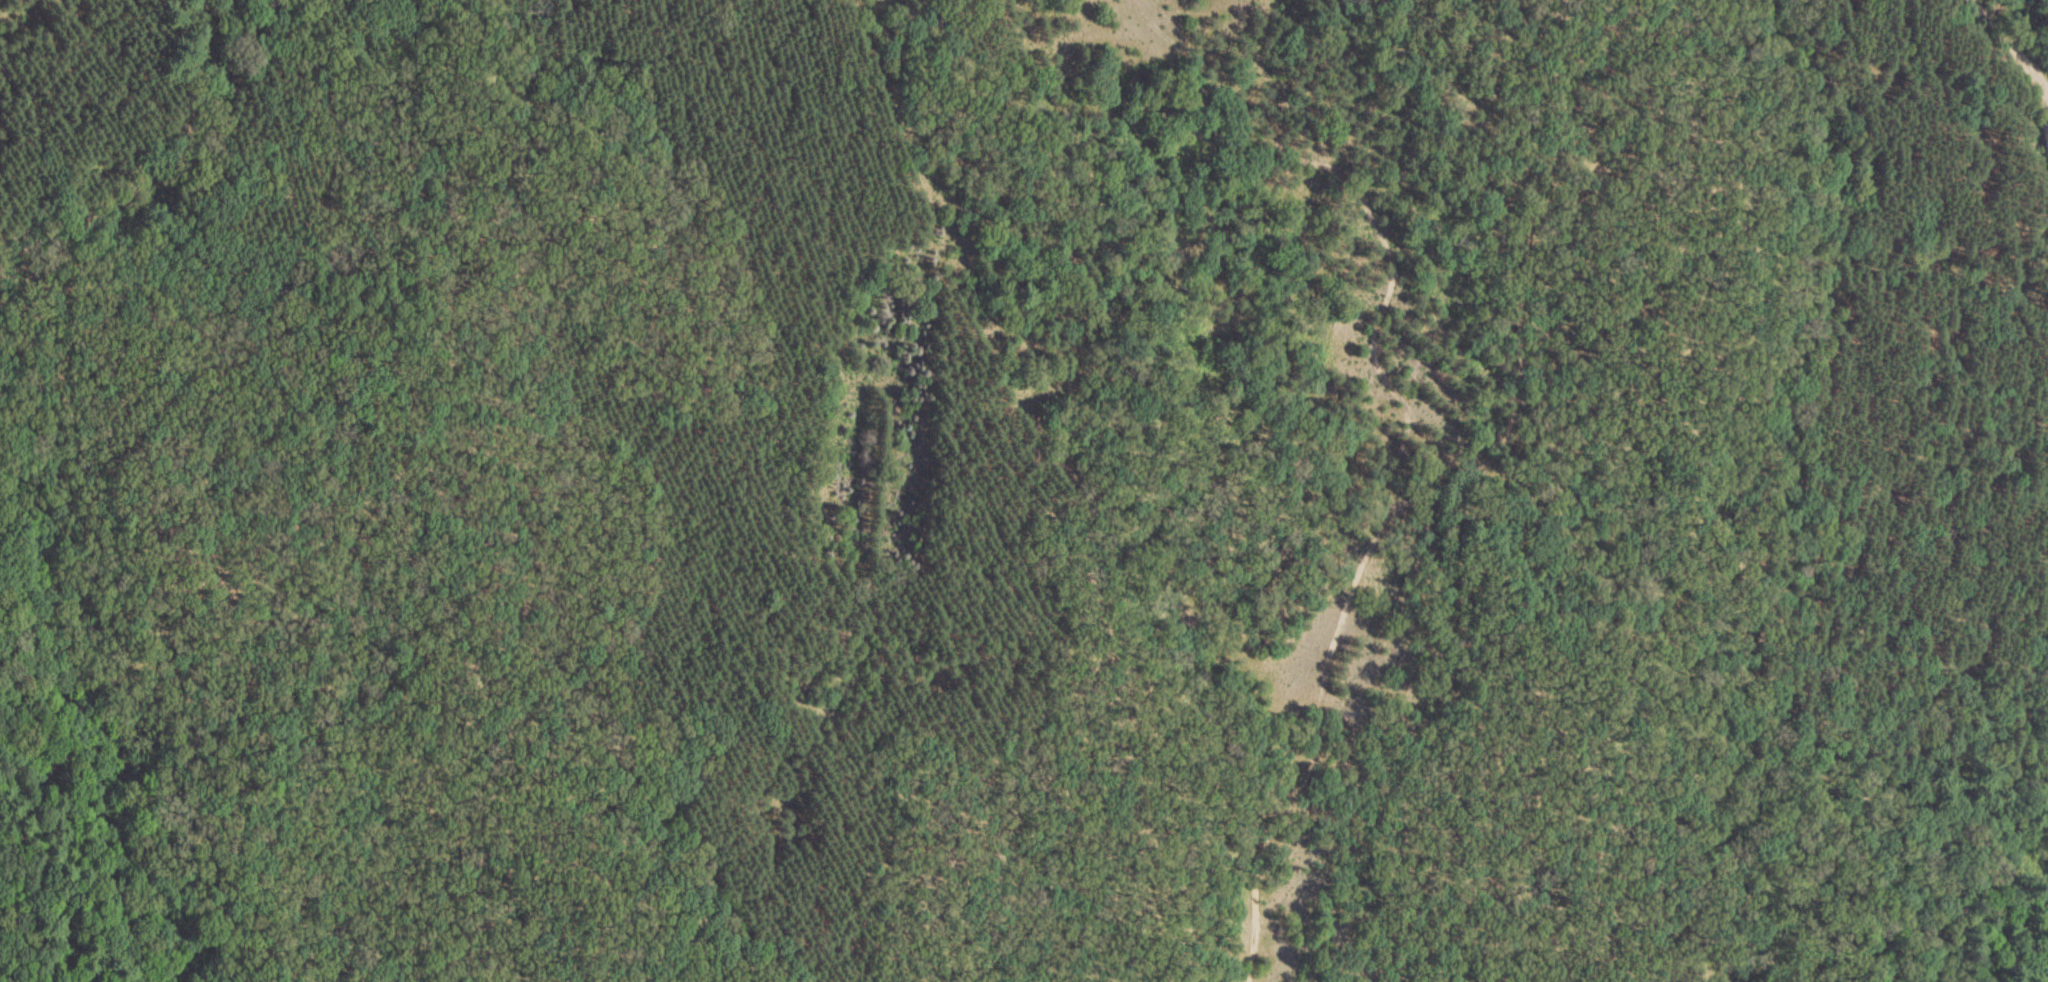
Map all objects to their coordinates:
road: (152, 158)
road: (4, 429)

